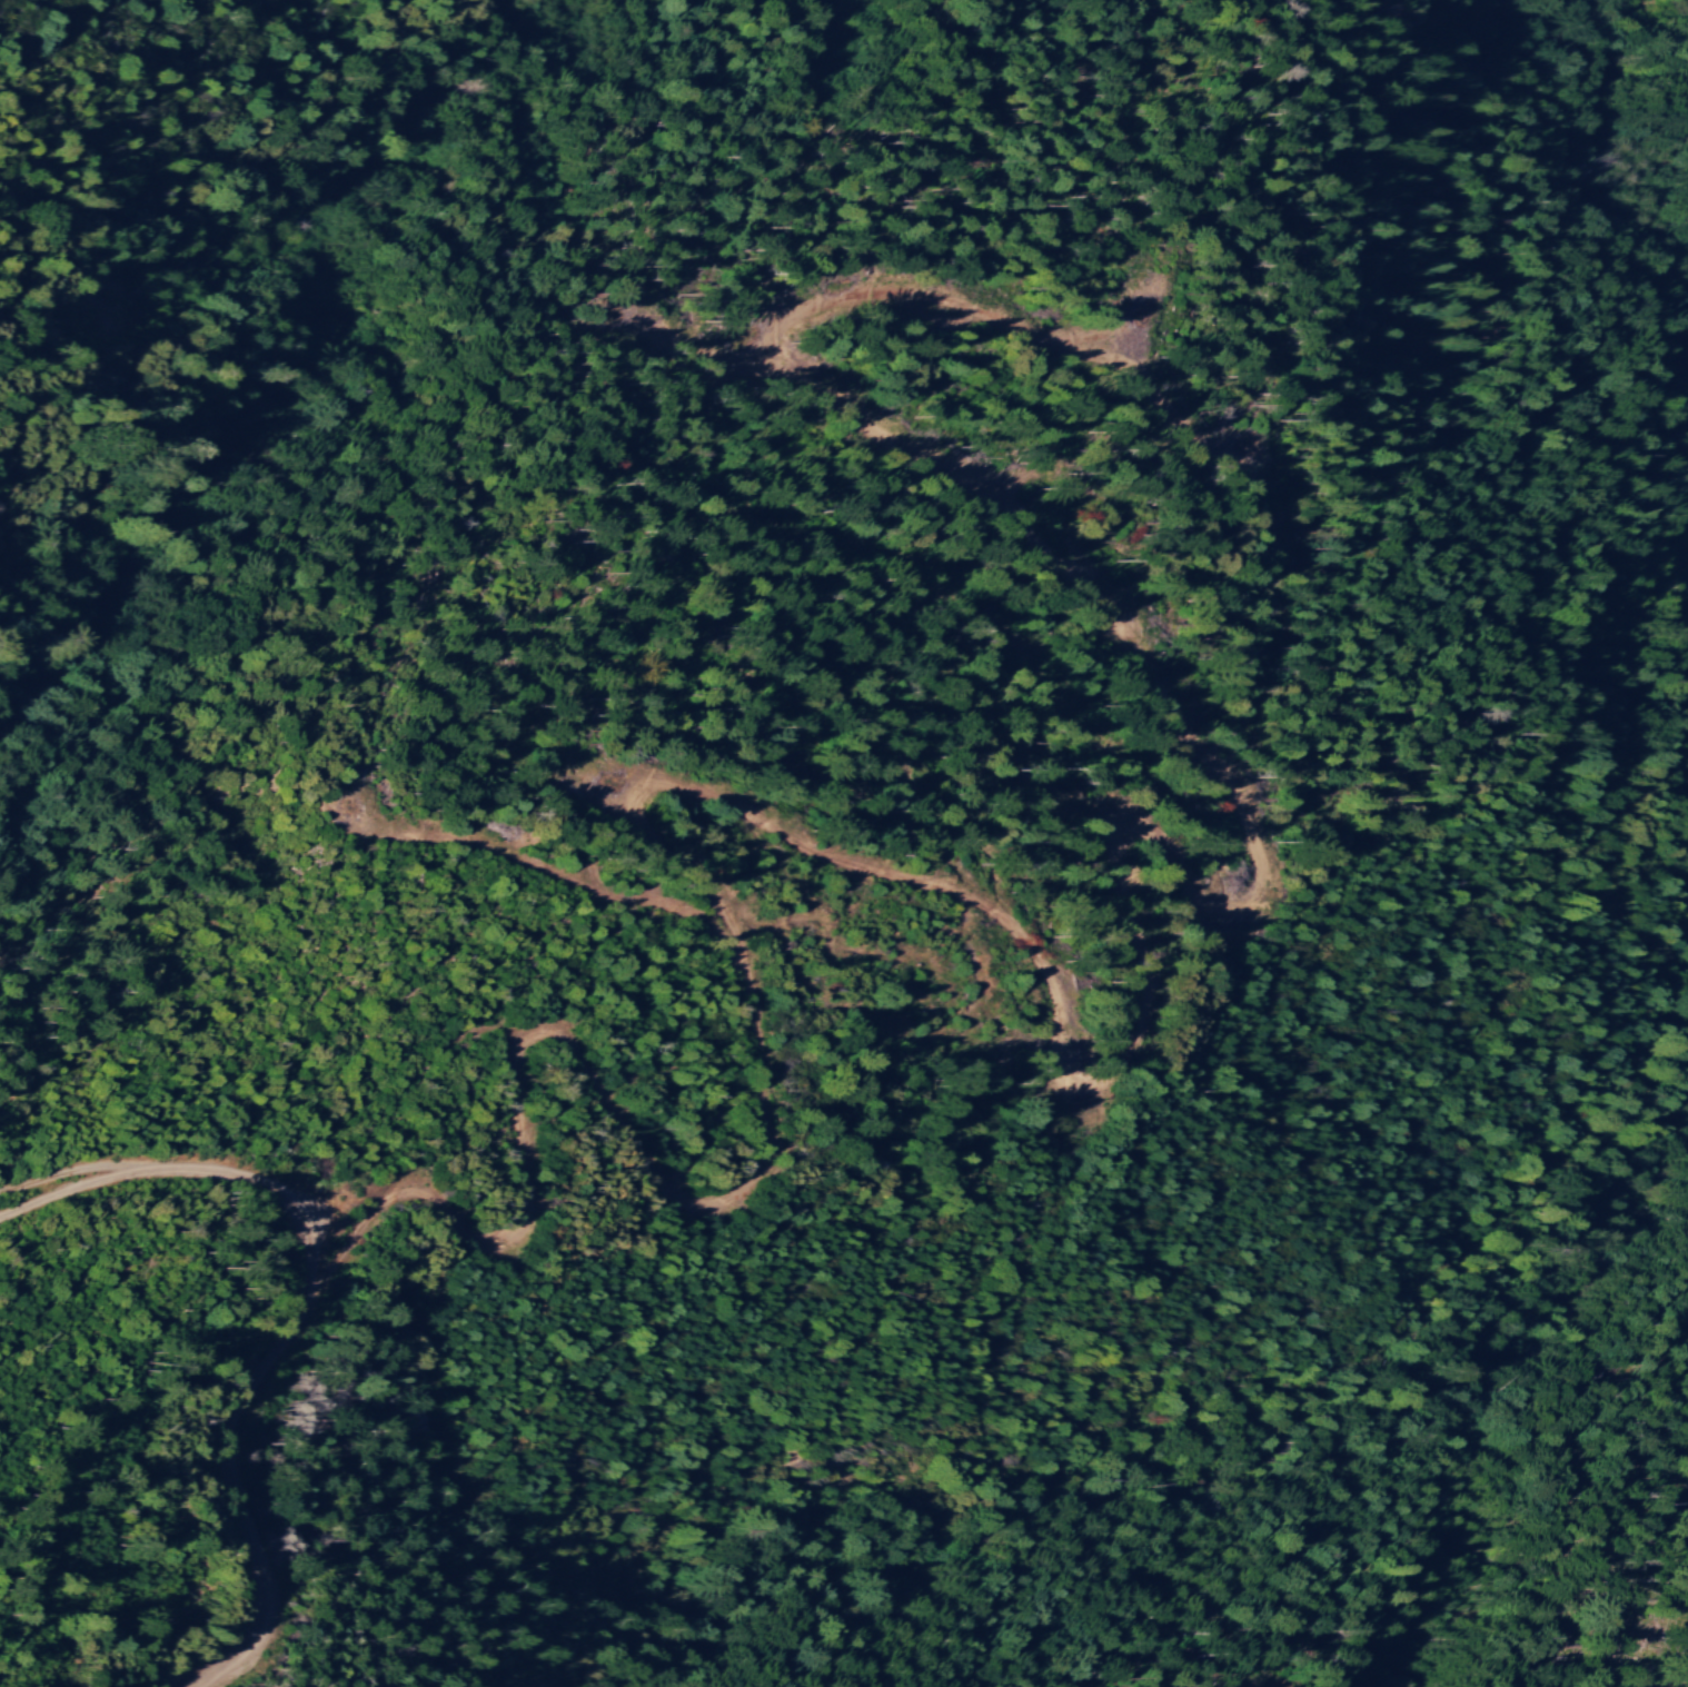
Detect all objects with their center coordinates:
road: (319, 1299)

